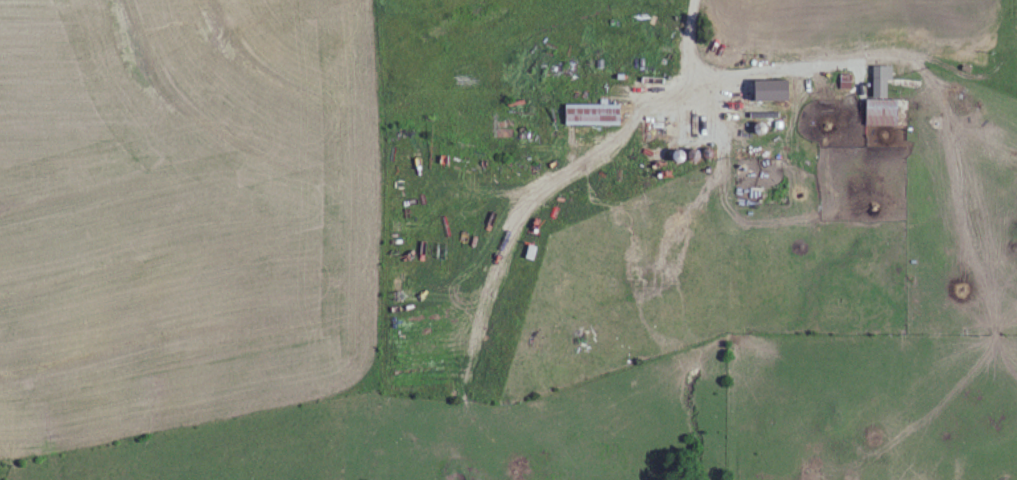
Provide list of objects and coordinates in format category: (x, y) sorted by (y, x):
building: (735, 13)
building: (884, 98)
building: (596, 115)

